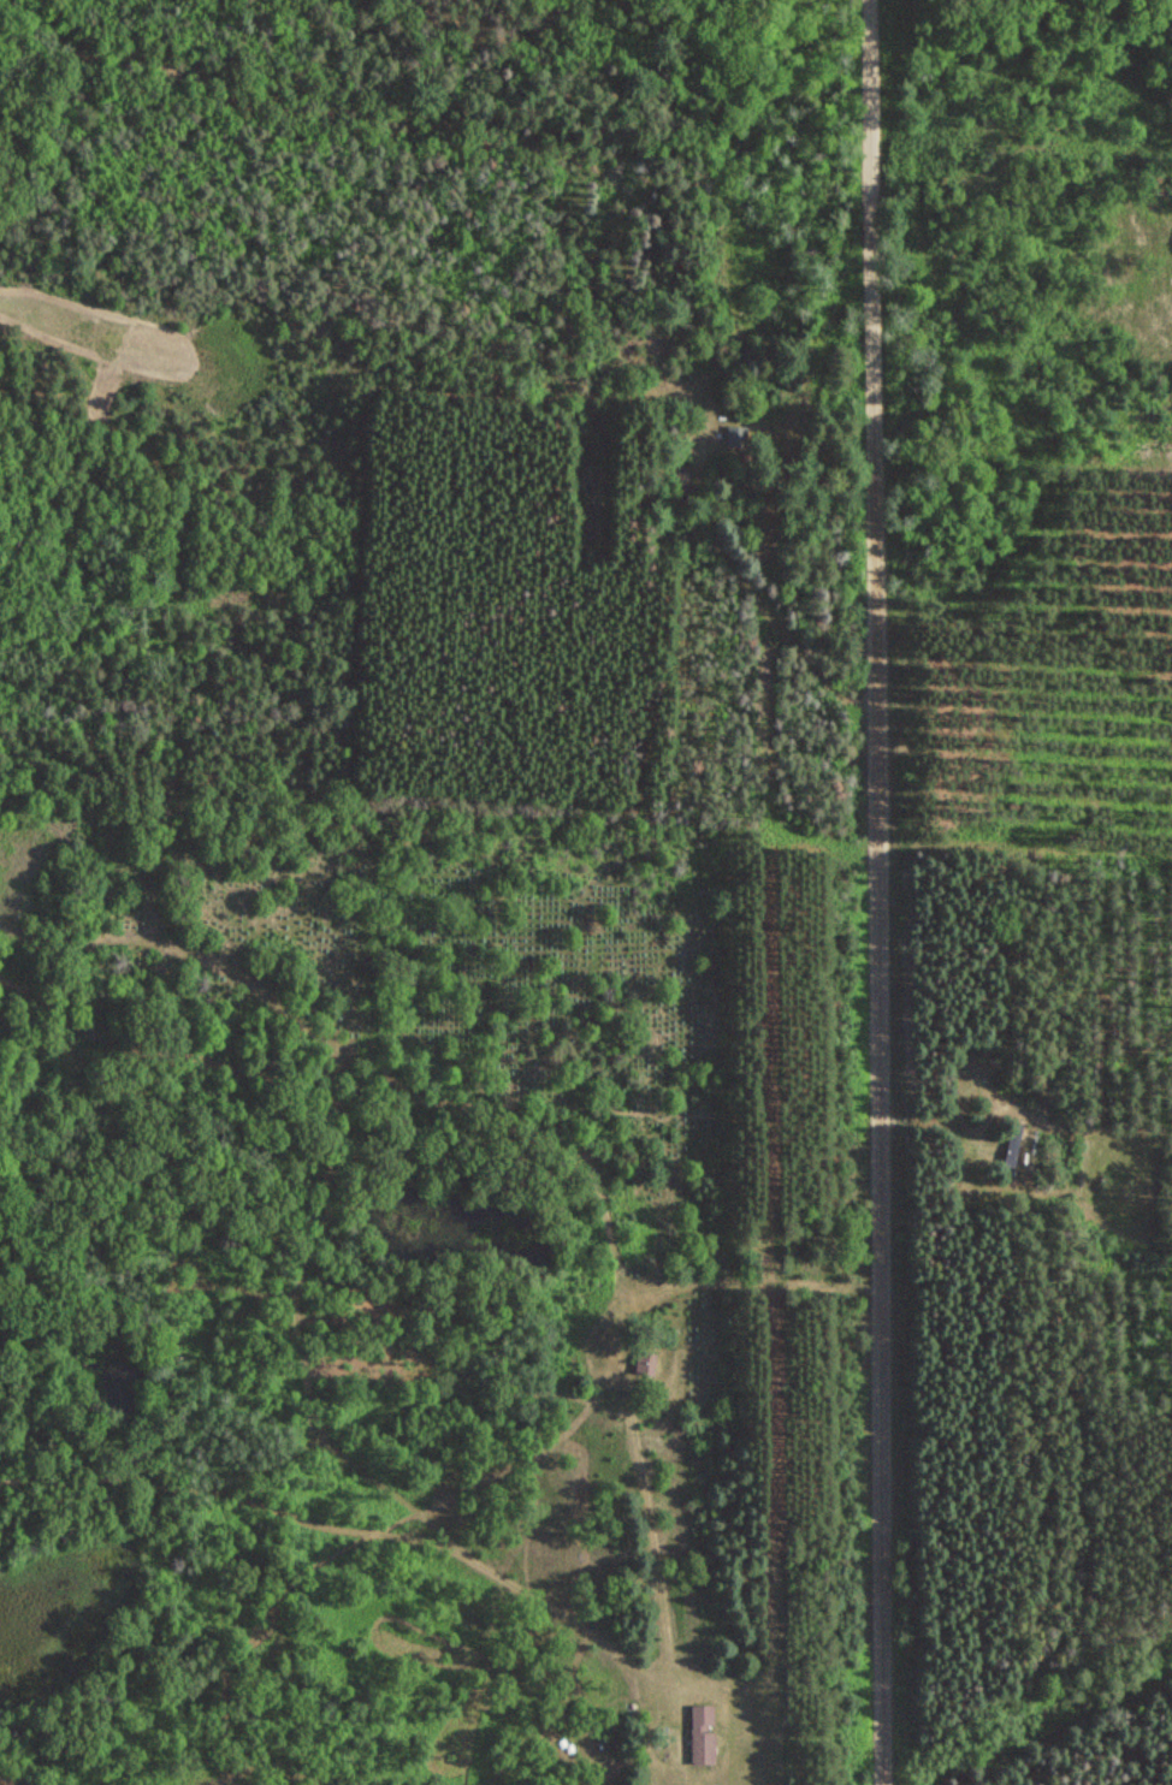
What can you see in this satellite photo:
building: (738, 437)
road: (876, 892)
building: (698, 1736)

